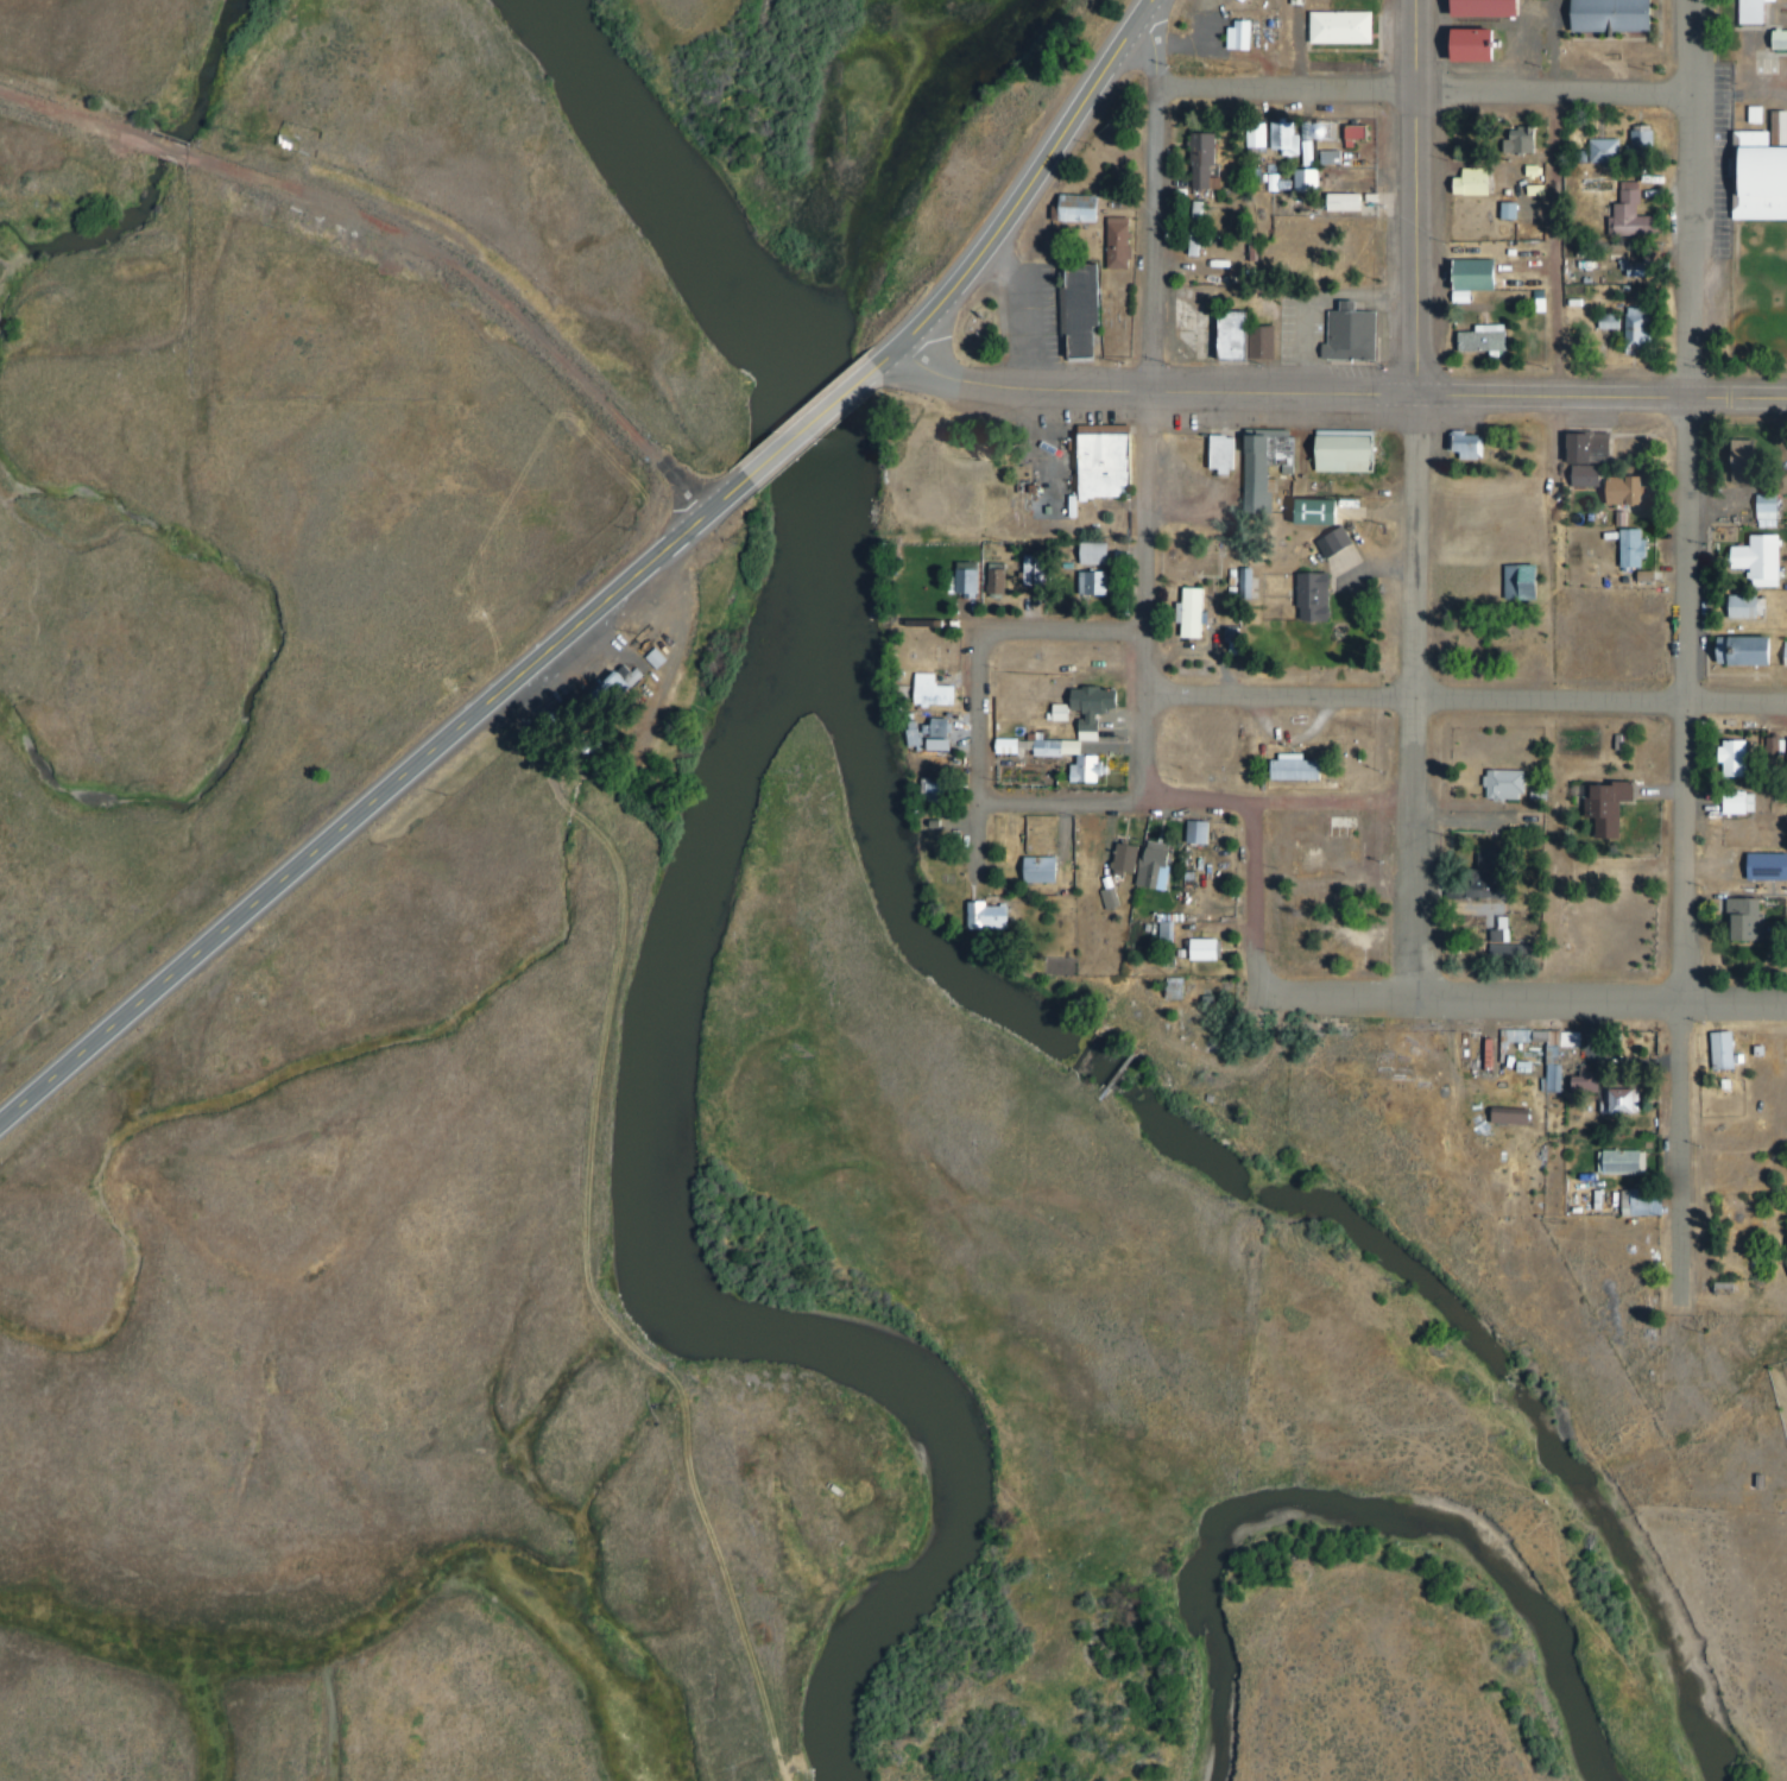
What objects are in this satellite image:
building: (1238, 1)
building: (1249, 1)
building: (1496, 8)
building: (1762, 12)
building: (1621, 15)
building: (1349, 27)
building: (1248, 36)
building: (1235, 37)
building: (1785, 39)
building: (1483, 45)
road: (1744, 91)
road: (1434, 94)
building: (1768, 115)
building: (1786, 127)
building: (1350, 133)
water tower: (1338, 134)
building: (1364, 134)
building: (1252, 135)
building: (1265, 135)
building: (1638, 138)
building: (1293, 139)
building: (1653, 140)
building: (1526, 141)
building: (1614, 150)
building: (1316, 153)
building: (1303, 154)
building: (1590, 154)
building: (1340, 157)
building: (1326, 158)
building: (1211, 160)
building: (1199, 163)
building: (1541, 170)
building: (1764, 177)
building: (1319, 179)
building: (1302, 181)
building: (1480, 182)
building: (1282, 183)
building: (1545, 190)
road: (1028, 192)
building: (1379, 198)
building: (1350, 202)
building: (1517, 208)
building: (1640, 208)
building: (1088, 209)
building: (1379, 210)
building: (1504, 211)
building: (1627, 215)
building: (1205, 228)
road: (394, 235)
building: (1126, 241)
building: (1114, 244)
building: (1652, 264)
building: (1480, 274)
building: (1090, 311)
parking lot: (1046, 317)
building: (1617, 321)
building: (1649, 328)
building: (1634, 329)
building: (1359, 334)
building: (1238, 335)
building: (1491, 340)
building: (1269, 341)
building: (1257, 343)
road: (1566, 348)
road: (1339, 397)
road: (1154, 402)
road: (812, 425)
building: (1477, 447)
building: (1595, 447)
building: (1351, 450)
building: (1229, 453)
building: (1745, 457)
building: (1111, 461)
building: (1271, 469)
building: (1580, 475)
building: (1595, 475)
building: (1630, 490)
road: (1423, 500)
building: (1777, 504)
building: (1762, 507)
building: (1318, 511)
building: (1622, 535)
building: (1344, 541)
building: (1330, 542)
building: (1641, 547)
building: (1101, 555)
building: (1767, 560)
road: (1387, 566)
building: (1040, 569)
building: (962, 576)
building: (1008, 577)
building: (1656, 577)
building: (977, 579)
building: (992, 580)
building: (1532, 581)
building: (1103, 582)
building: (1255, 582)
building: (1515, 582)
building: (1239, 586)
building: (1322, 595)
building: (1754, 604)
building: (1196, 611)
road: (1071, 629)
road: (1694, 646)
building: (1755, 650)
building: (1783, 653)
building: (652, 658)
building: (668, 658)
building: (619, 680)
building: (943, 690)
building: (615, 693)
road: (1467, 694)
building: (1100, 705)
building: (1069, 713)
road: (991, 718)
building: (935, 727)
building: (948, 727)
building: (1769, 744)
building: (933, 745)
building: (600, 746)
building: (1018, 746)
building: (1057, 749)
building: (1729, 757)
building: (1741, 757)
building: (1303, 765)
building: (1094, 769)
building: (1514, 783)
building: (926, 789)
building: (947, 791)
building: (1551, 792)
road: (1072, 801)
building: (1743, 801)
road: (1286, 802)
road: (371, 804)
building: (1618, 807)
building: (1193, 832)
building: (1208, 832)
road: (992, 839)
building: (1120, 858)
building: (1135, 858)
building: (1773, 864)
building: (1163, 869)
building: (1034, 870)
building: (1052, 870)
building: (1489, 876)
road: (1267, 885)
building: (1106, 897)
building: (998, 916)
building: (1760, 916)
building: (1511, 930)
building: (1163, 933)
building: (1179, 934)
river: (707, 947)
building: (1214, 948)
building: (1524, 951)
road: (1522, 1002)
building: (1734, 1049)
building: (1718, 1050)
building: (1502, 1054)
building: (1548, 1055)
building: (1536, 1065)
building: (1565, 1069)
building: (1580, 1082)
building: (1622, 1095)
building: (1523, 1112)
building: (1504, 1116)
building: (1634, 1162)
building: (1654, 1201)
road: (601, 1239)
building: (1732, 1288)
building: (1774, 1480)
river: (1385, 1542)
road: (959, 1711)
road: (910, 1780)

